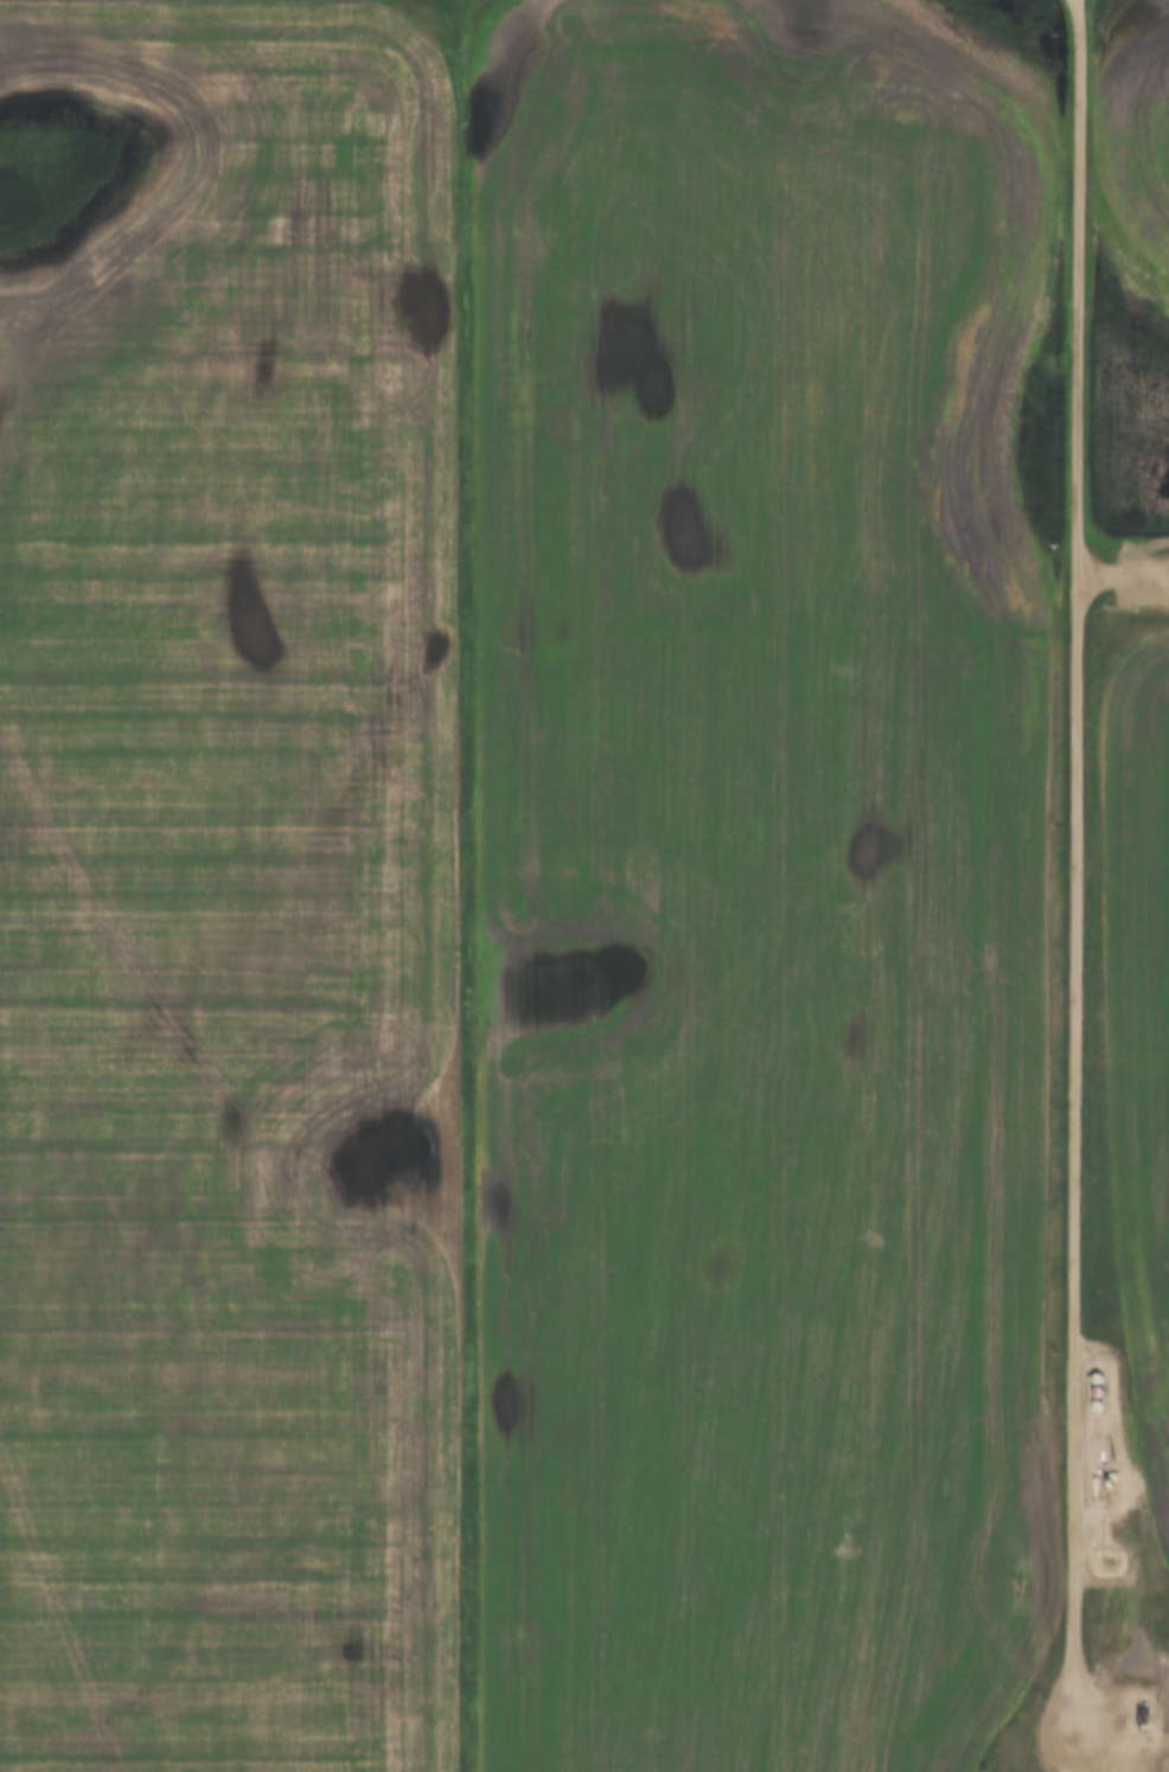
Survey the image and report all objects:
road: (1149, 557)
road: (1104, 562)
road: (1148, 582)
road: (1074, 869)

